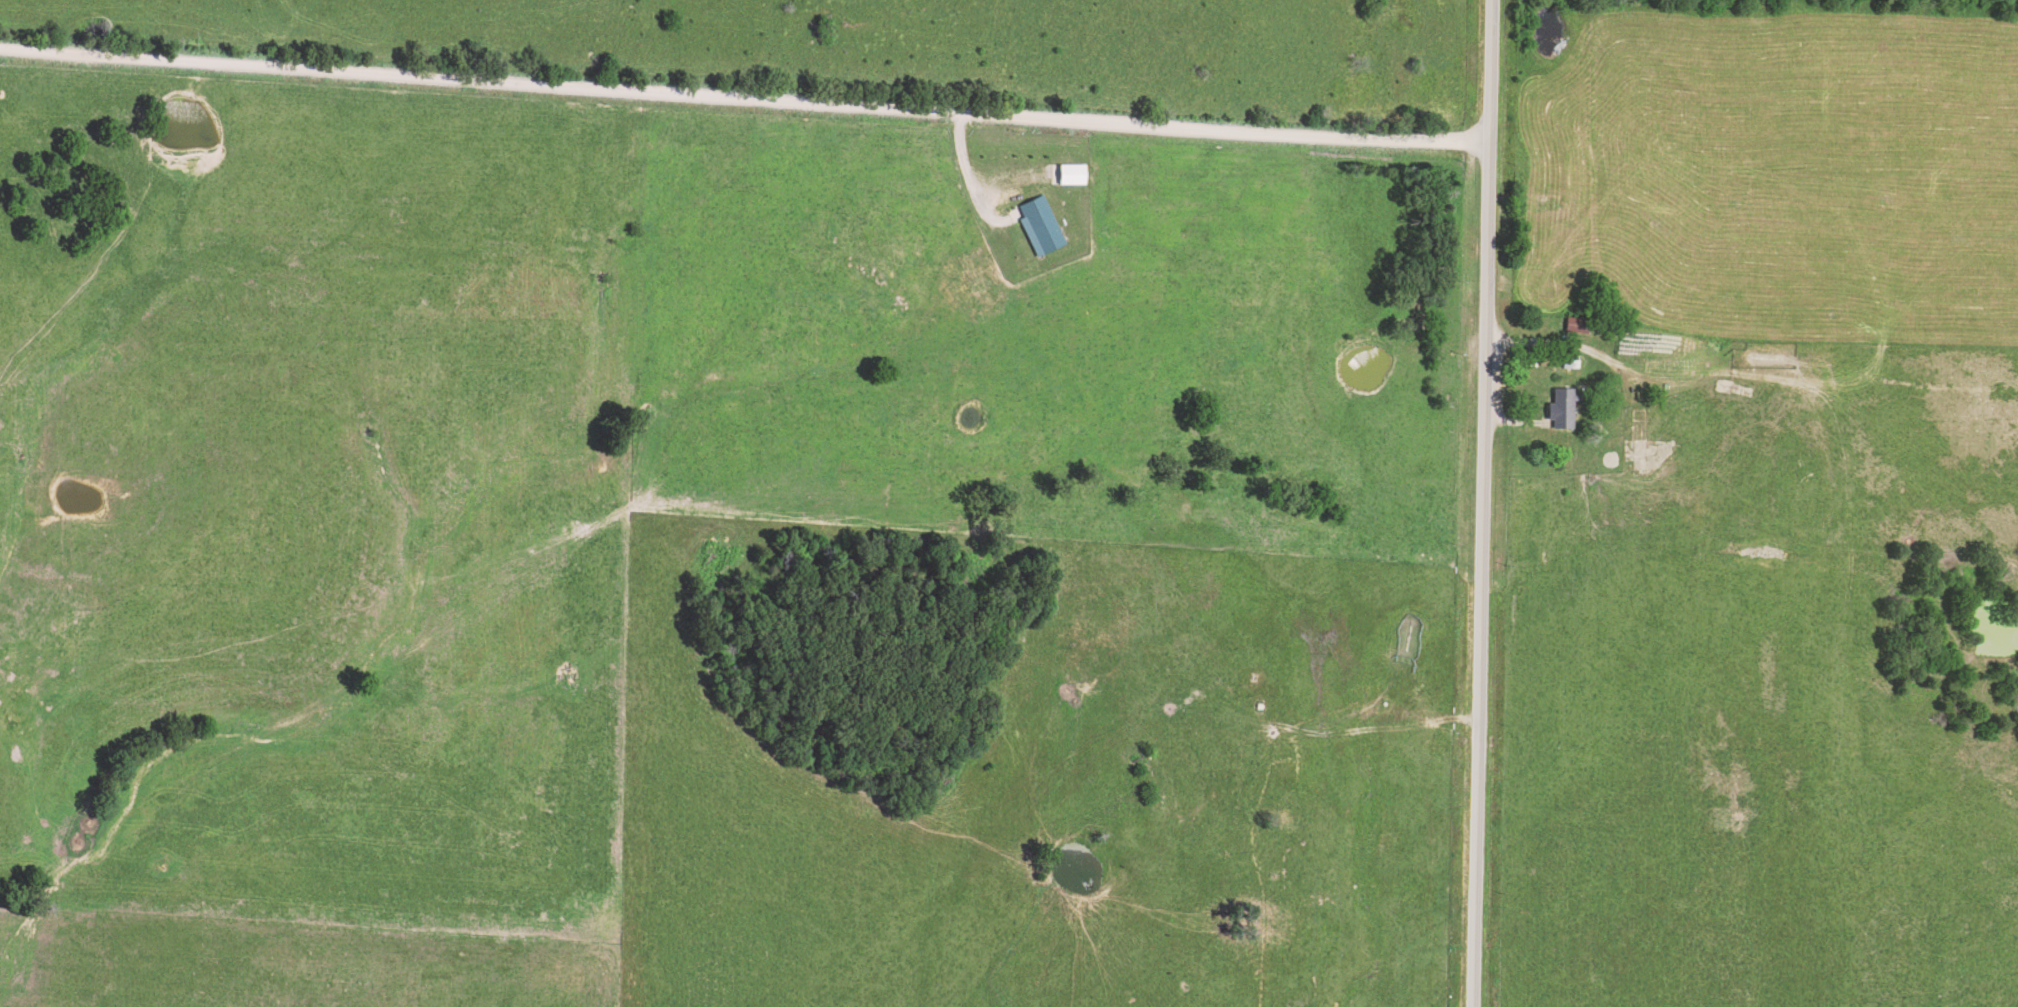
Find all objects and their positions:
road: (743, 89)
building: (1068, 173)
building: (1037, 225)
building: (1558, 408)
road: (1479, 503)

